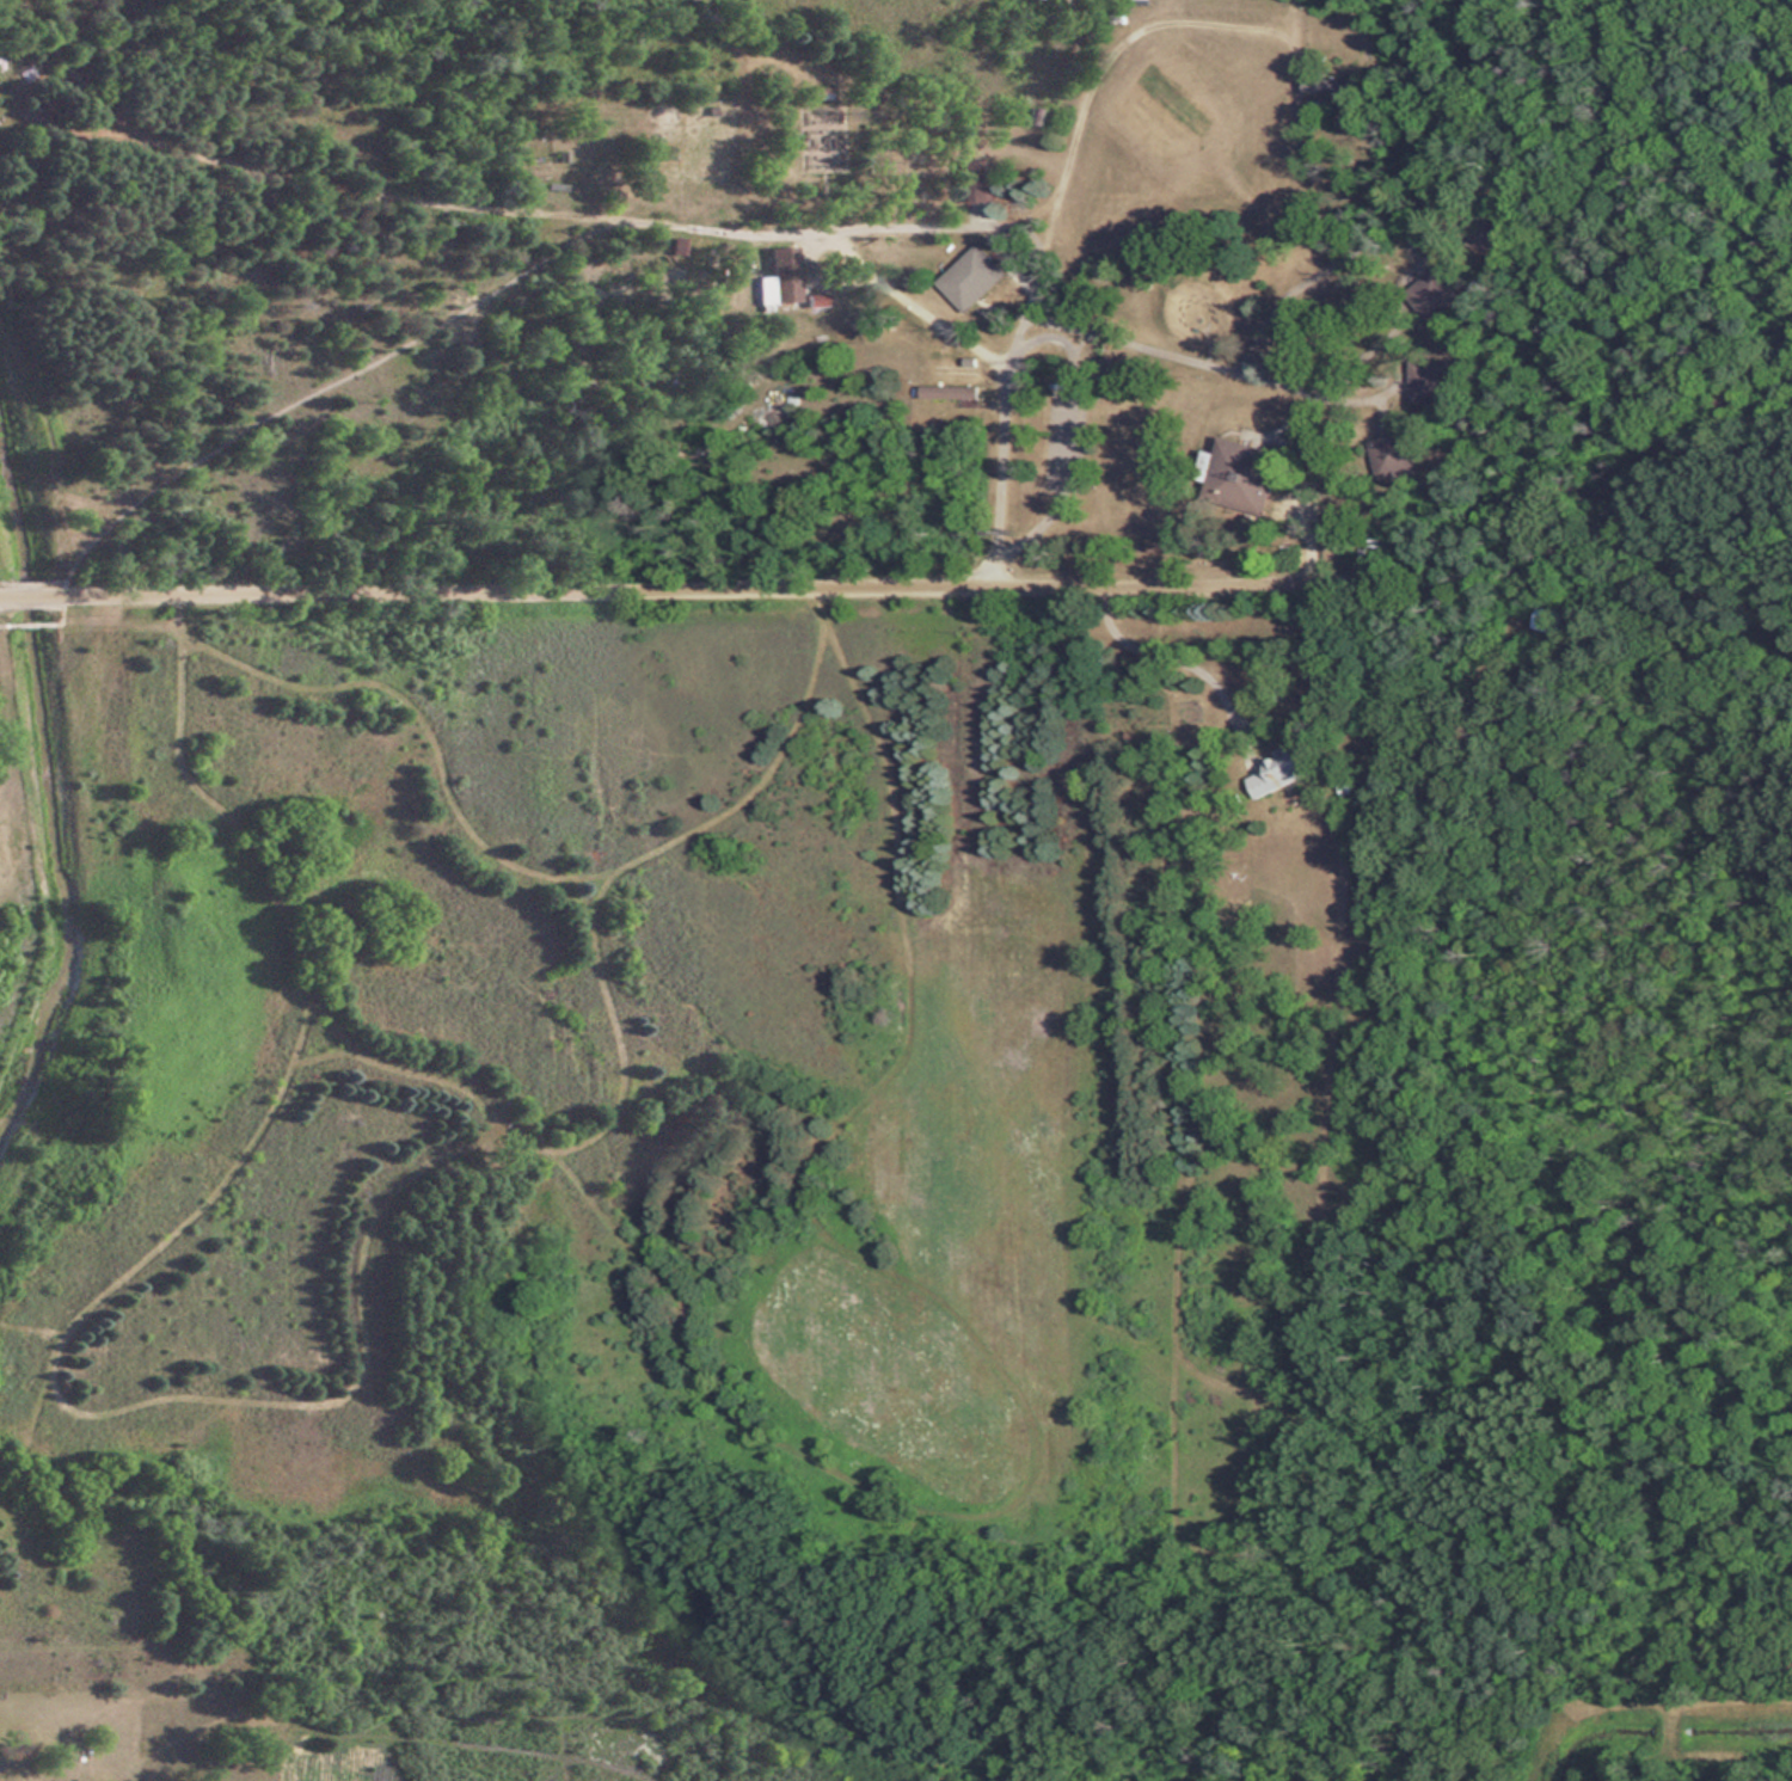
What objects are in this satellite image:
building: (1331, 84)
building: (821, 93)
building: (976, 179)
building: (781, 277)
building: (968, 278)
building: (1430, 303)
building: (1432, 381)
building: (946, 393)
building: (1391, 454)
building: (1239, 477)
road: (681, 590)
building: (1547, 616)
road: (1167, 656)
building: (1281, 768)

